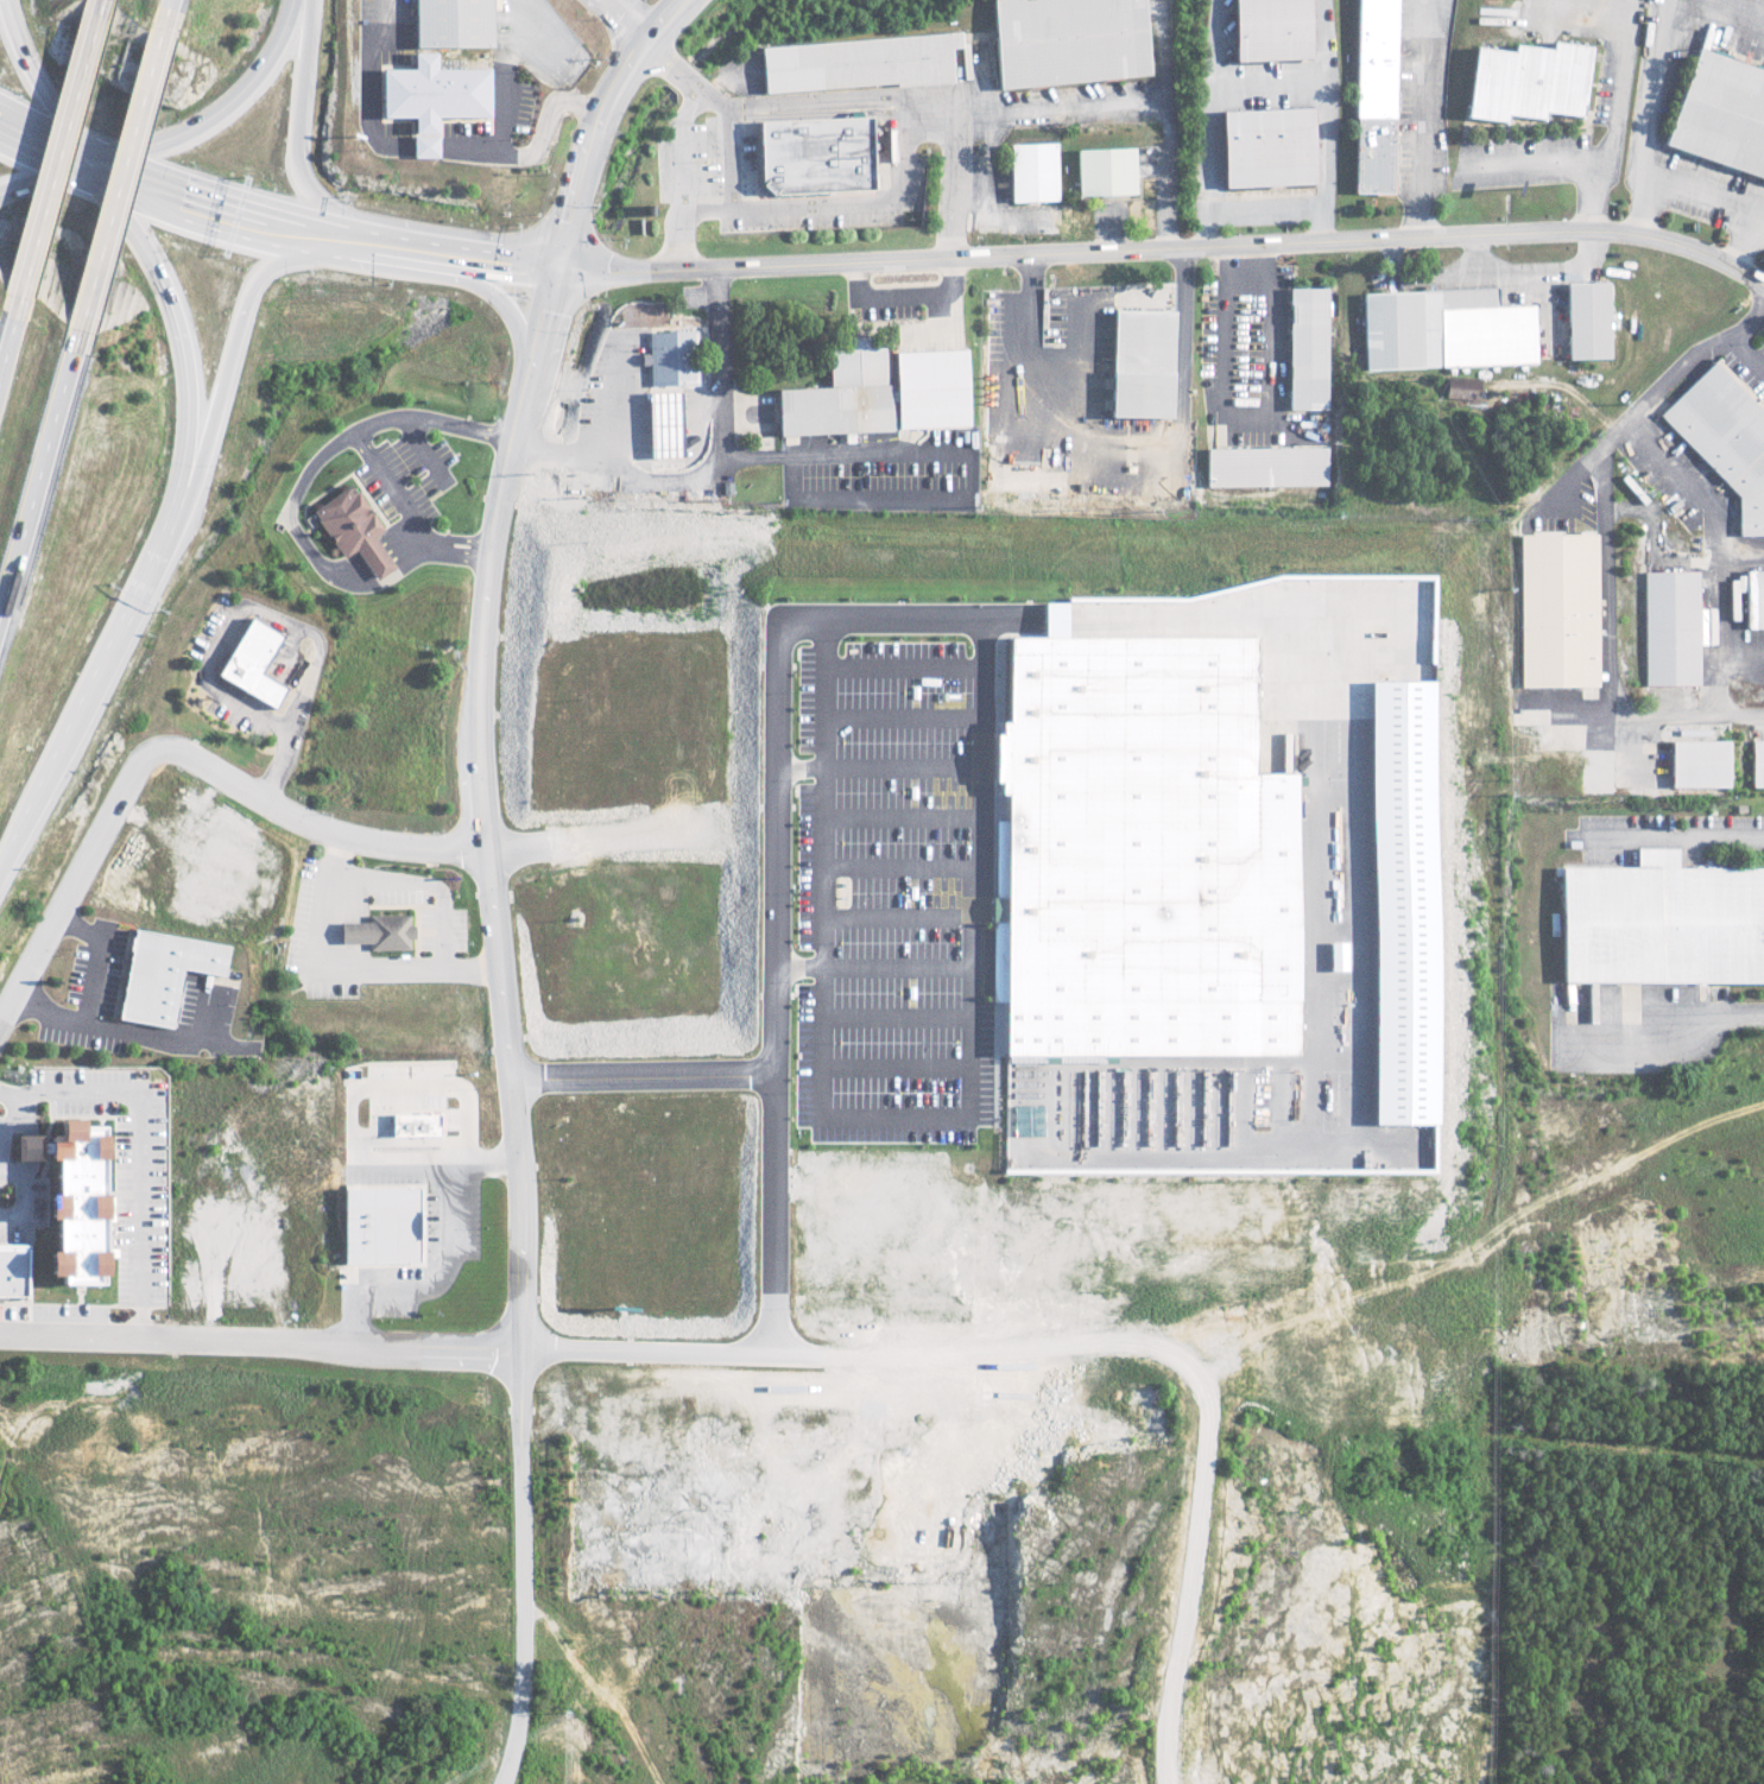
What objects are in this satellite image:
road: (105, 2)
road: (164, 8)
road: (618, 20)
building: (449, 24)
building: (1266, 30)
building: (1066, 42)
building: (855, 64)
building: (1526, 83)
road: (45, 86)
road: (865, 91)
building: (1372, 96)
building: (428, 99)
road: (1142, 105)
road: (221, 110)
road: (1646, 115)
building: (1720, 115)
road: (1424, 118)
road: (302, 124)
road: (48, 137)
road: (679, 139)
road: (497, 144)
road: (59, 147)
road: (726, 147)
building: (1265, 148)
building: (811, 157)
traffic signals: (95, 163)
building: (1032, 173)
building: (1104, 173)
road: (114, 175)
road: (46, 176)
road: (808, 196)
road: (215, 207)
road: (1166, 247)
road: (1751, 249)
road: (449, 255)
traffic signals: (559, 268)
road: (903, 290)
road: (164, 297)
road: (7, 316)
road: (240, 318)
building: (1587, 320)
building: (1446, 329)
building: (1308, 348)
road: (1747, 353)
building: (668, 356)
building: (1139, 362)
building: (1462, 387)
building: (877, 391)
building: (660, 424)
building: (1725, 438)
road: (835, 443)
road: (360, 444)
road: (702, 458)
road: (33, 462)
building: (1269, 467)
building: (349, 529)
road: (1722, 542)
road: (1606, 549)
building: (1753, 597)
building: (1556, 609)
road: (846, 612)
building: (1670, 627)
road: (107, 650)
road: (903, 659)
building: (249, 662)
building: (1589, 691)
road: (171, 749)
road: (878, 759)
building: (1697, 763)
building: (1757, 764)
road: (821, 783)
road: (1680, 836)
building: (1138, 850)
road: (897, 855)
road: (5, 859)
road: (483, 873)
building: (1399, 902)
building: (1662, 922)
building: (375, 931)
road: (894, 956)
building: (158, 974)
road: (817, 1008)
road: (1725, 1019)
road: (6, 1120)
building: (411, 1124)
road: (138, 1149)
building: (71, 1202)
road: (770, 1208)
building: (375, 1225)
building: (11, 1270)
road: (260, 1336)
road: (1000, 1365)

